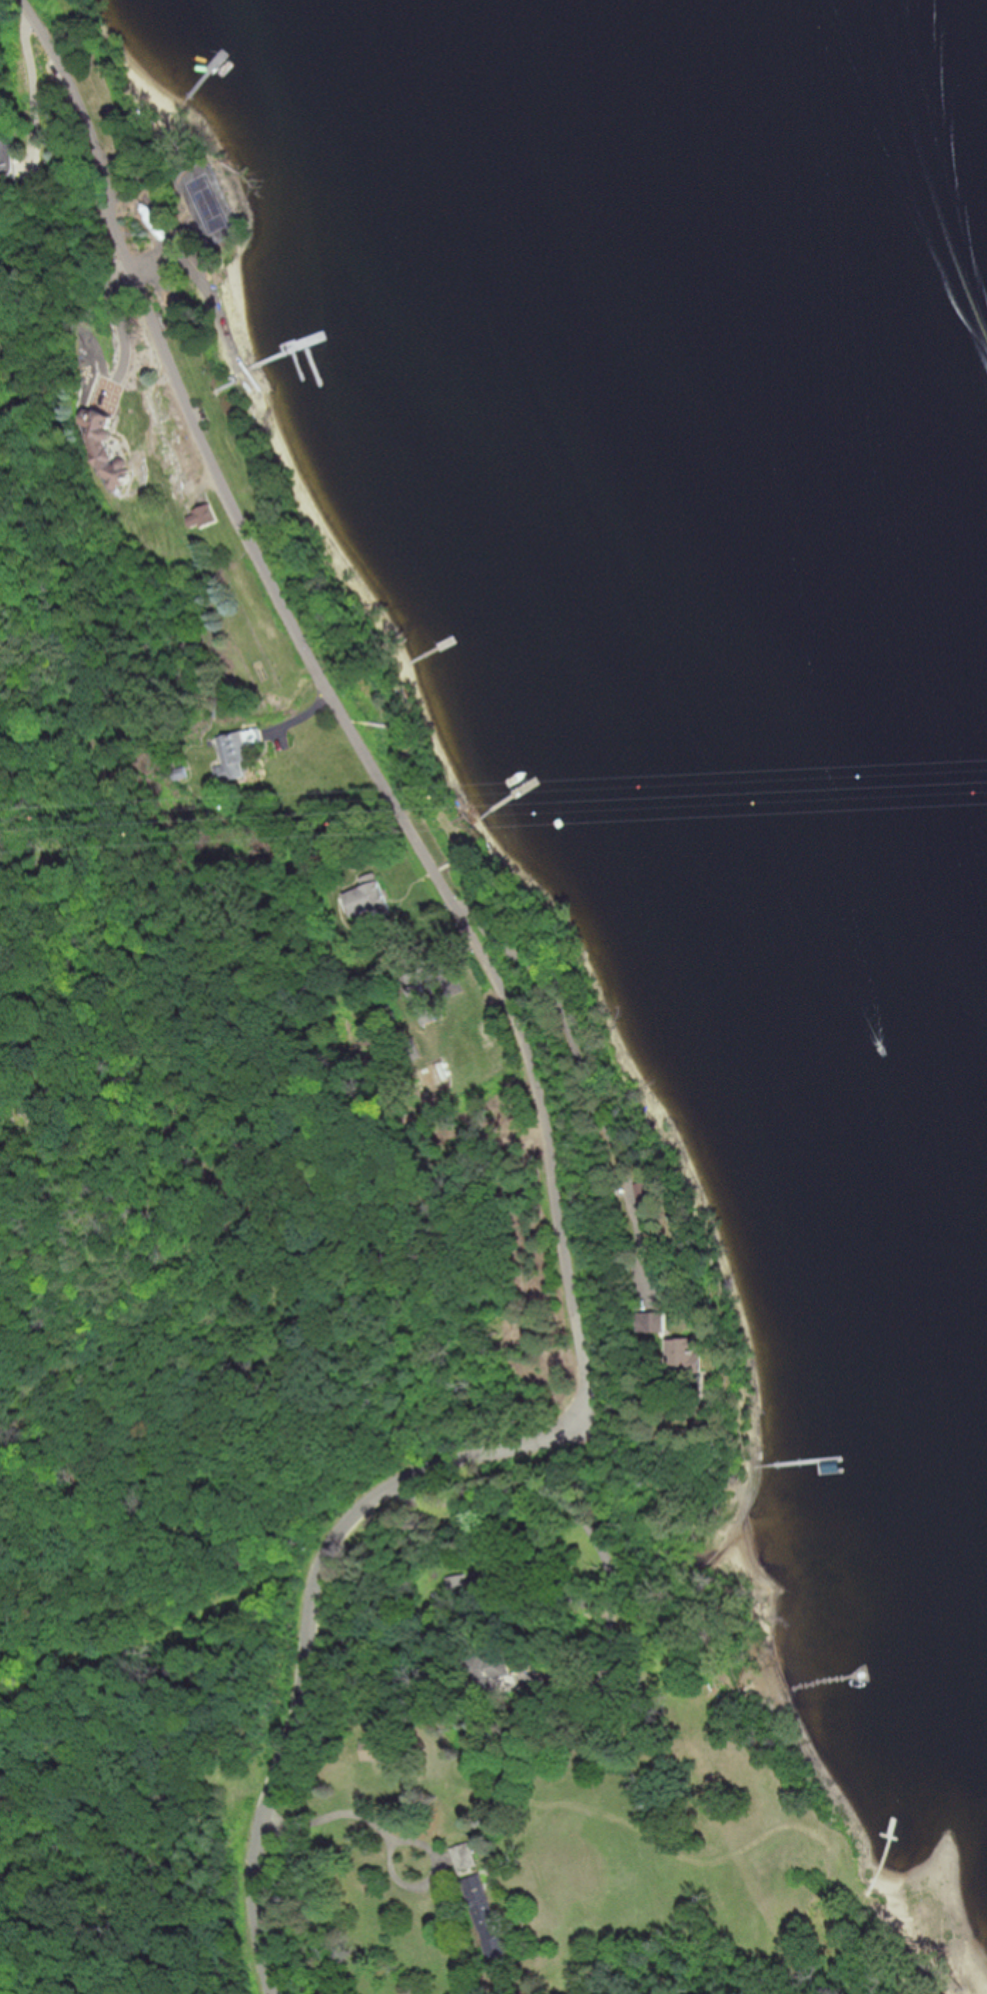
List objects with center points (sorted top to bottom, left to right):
road: (35, 95)
river: (931, 119)
building: (9, 153)
road: (120, 315)
building: (102, 452)
road: (319, 669)
building: (235, 755)
building: (371, 899)
building: (419, 998)
road: (587, 1068)
building: (653, 1321)
building: (688, 1366)
road: (598, 1539)
building: (462, 1590)
road: (327, 1597)
building: (381, 1748)
road: (352, 1840)
building: (479, 1894)

